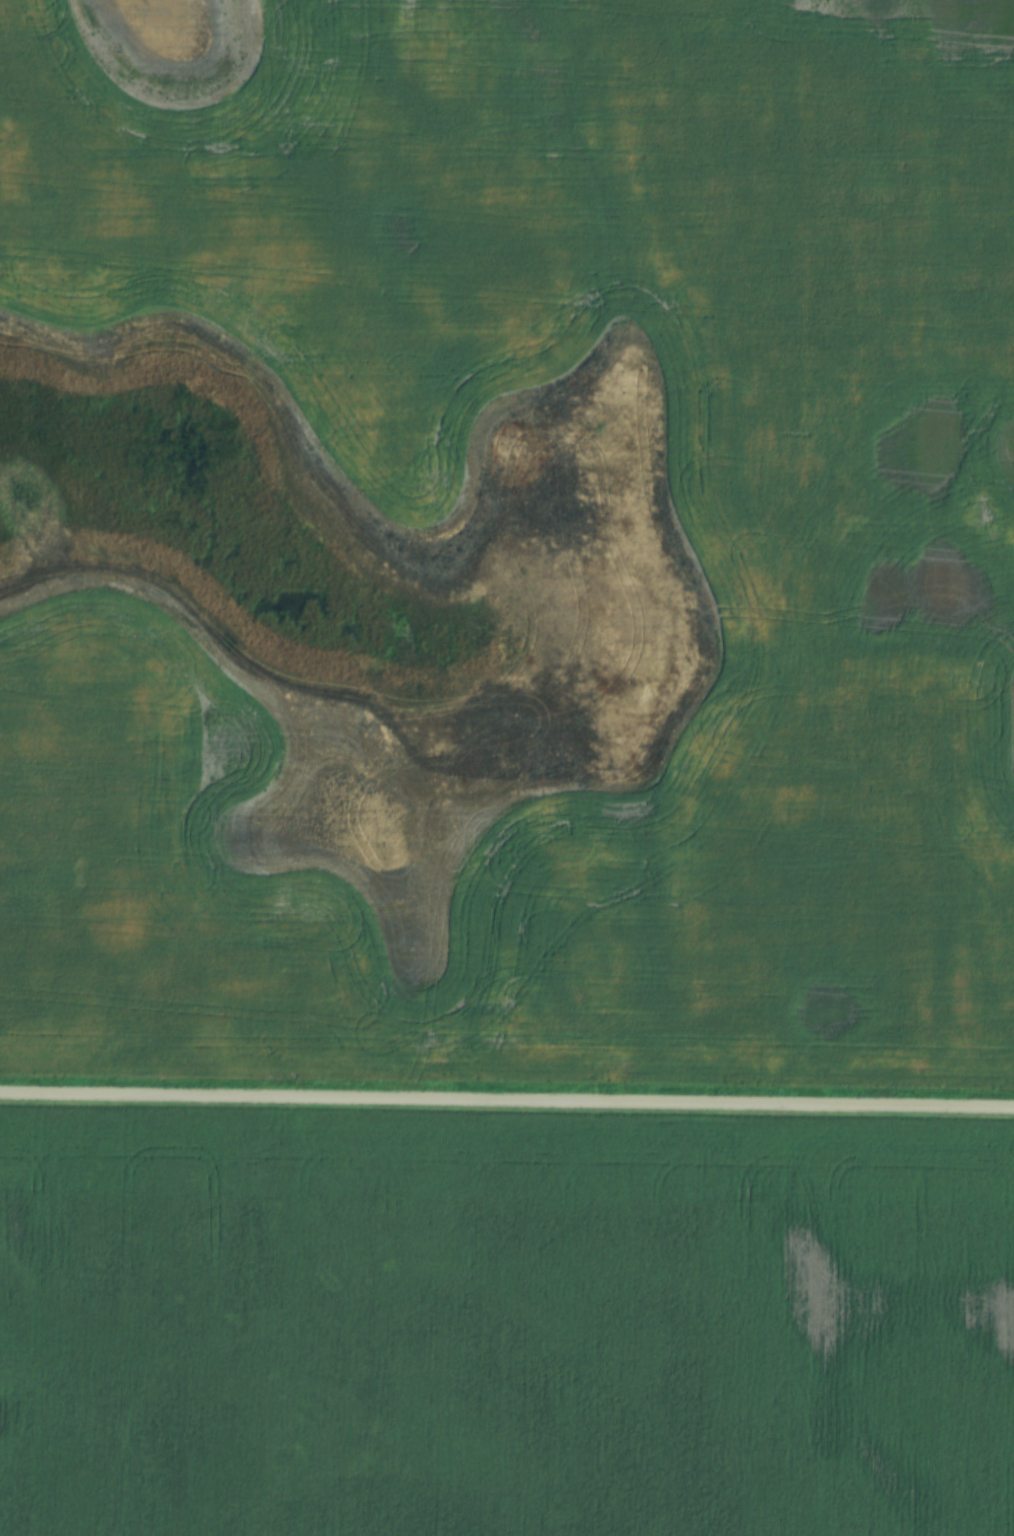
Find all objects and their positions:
road: (506, 1102)

